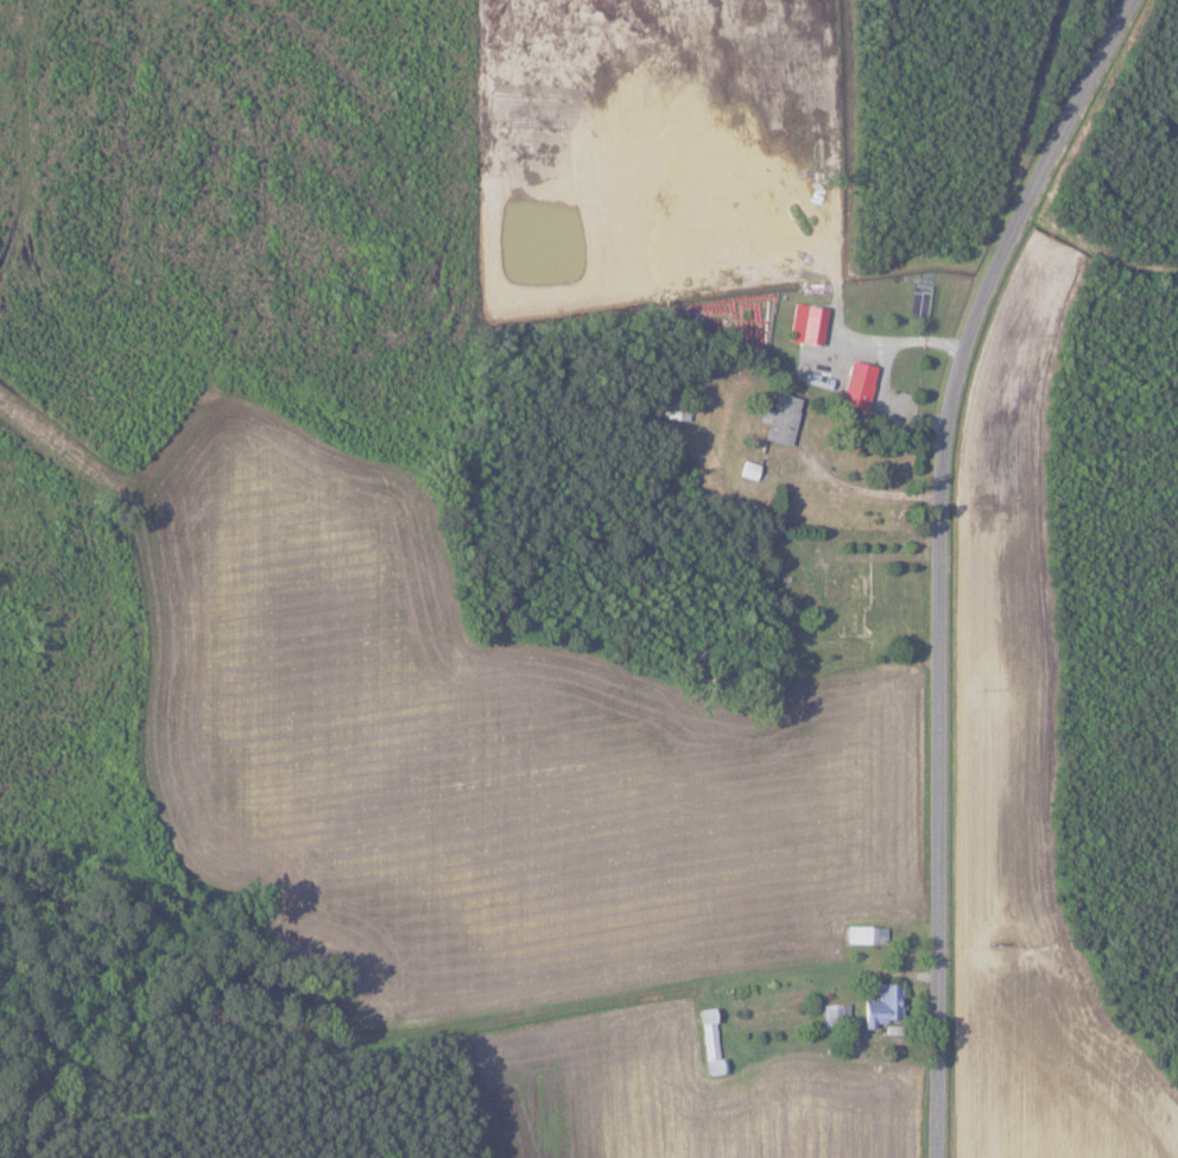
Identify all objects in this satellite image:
building: (811, 324)
road: (881, 372)
building: (856, 384)
building: (779, 418)
road: (868, 491)
road: (948, 557)
building: (864, 935)
building: (882, 1005)
building: (836, 1015)
building: (709, 1043)

